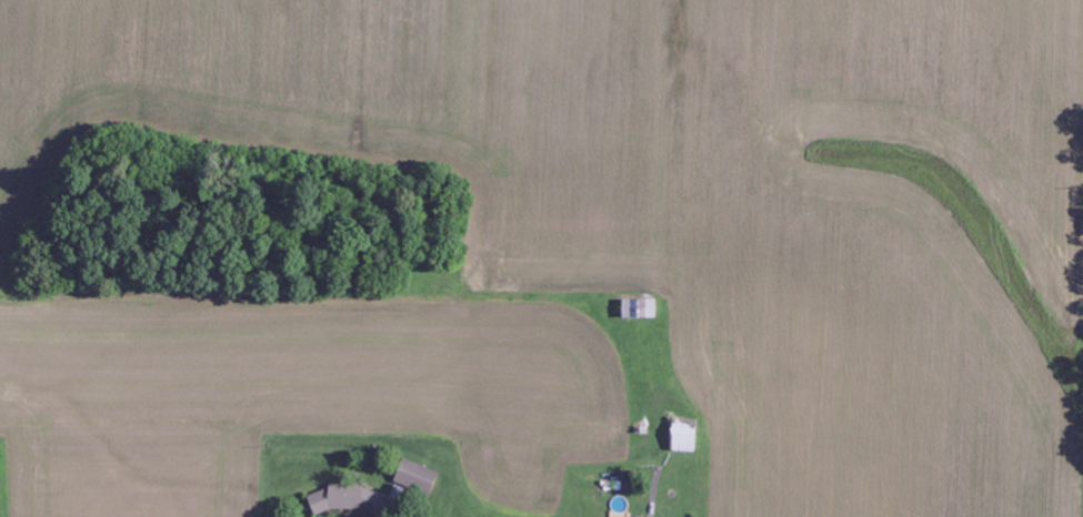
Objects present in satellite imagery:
building: (686, 435)
building: (414, 488)

